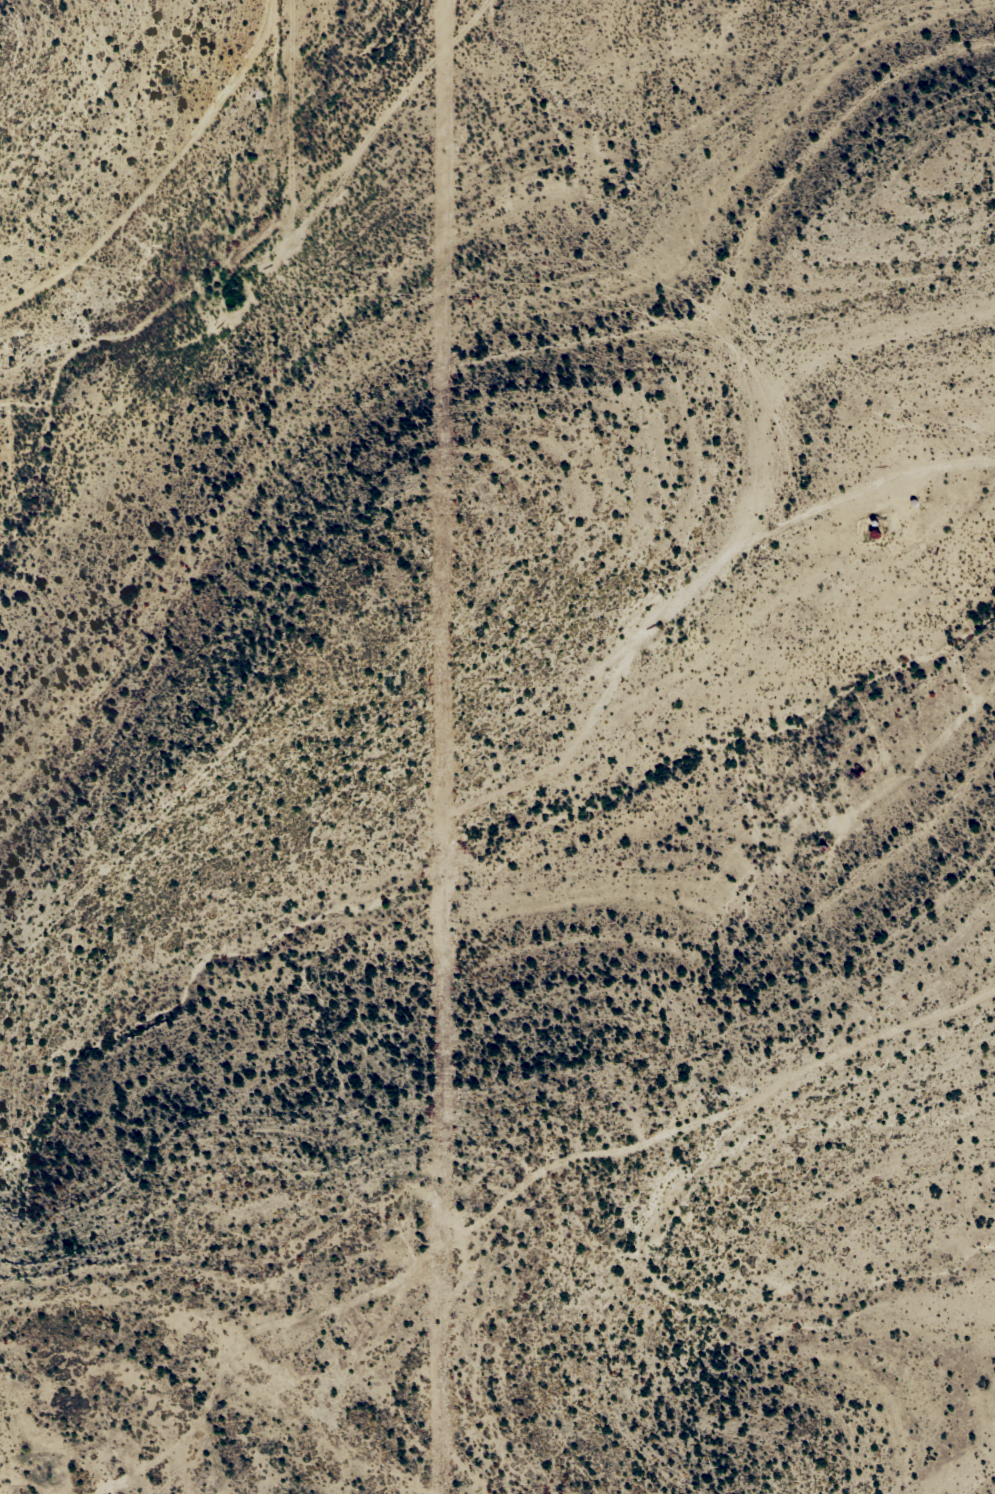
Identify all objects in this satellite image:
road: (166, 174)
road: (825, 528)
road: (947, 734)
road: (516, 1181)

